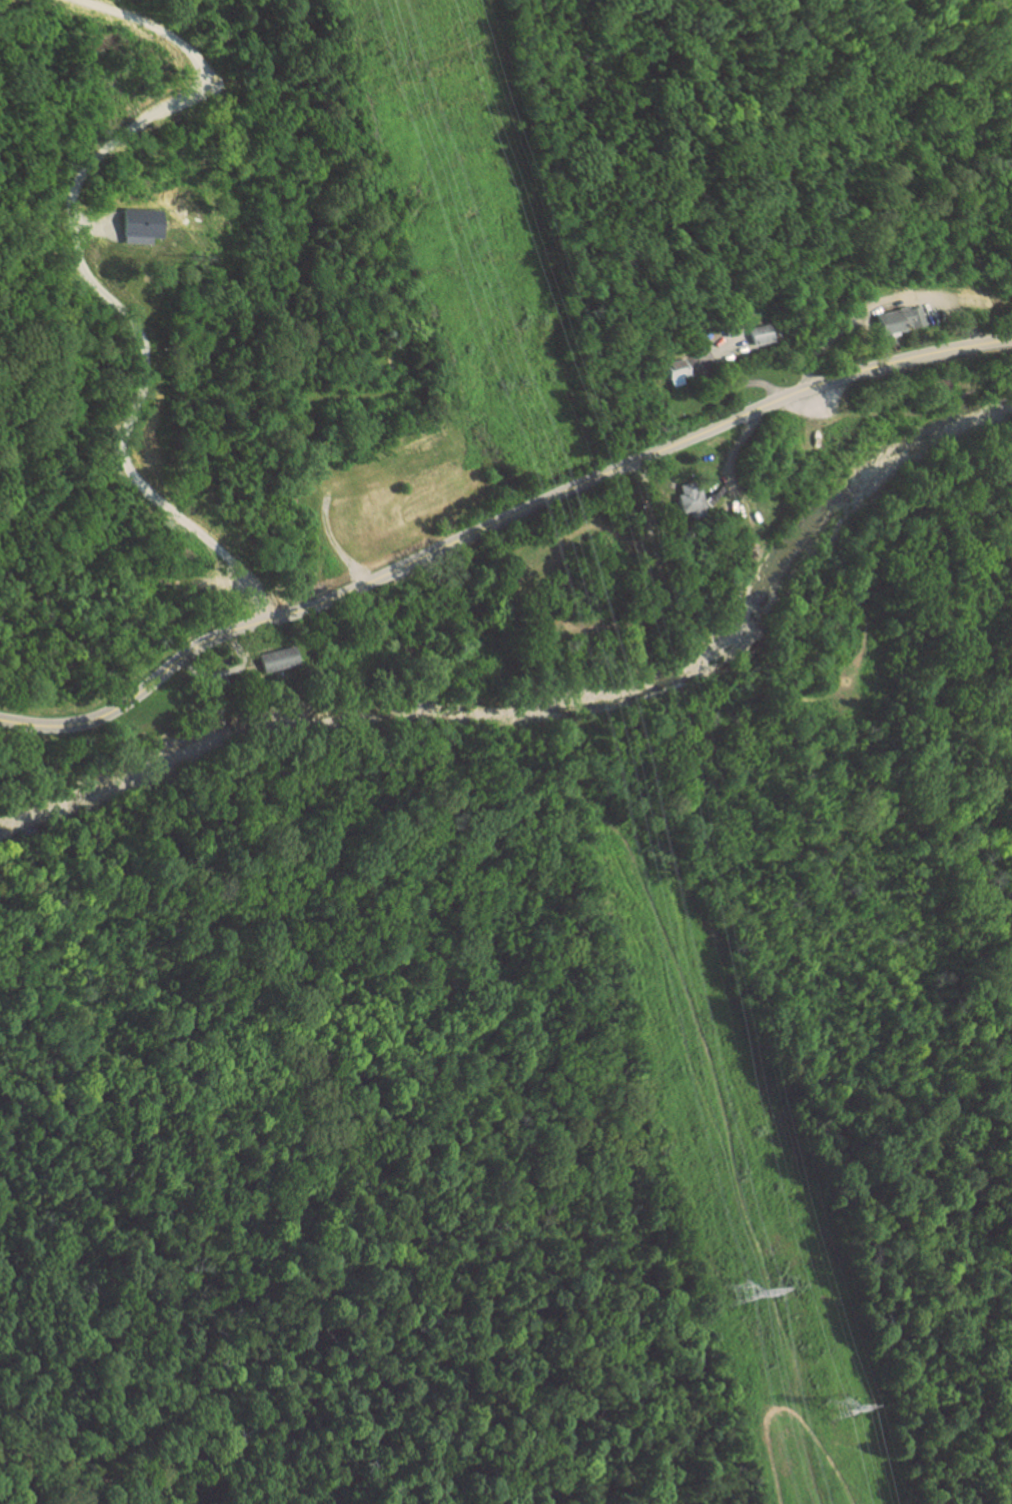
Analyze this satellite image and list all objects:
building: (142, 224)
road: (91, 280)
building: (900, 319)
building: (760, 333)
building: (730, 338)
road: (823, 346)
building: (675, 371)
road: (738, 382)
building: (691, 499)
road: (496, 522)
building: (278, 658)
power tower: (739, 1293)
power tower: (841, 1408)

